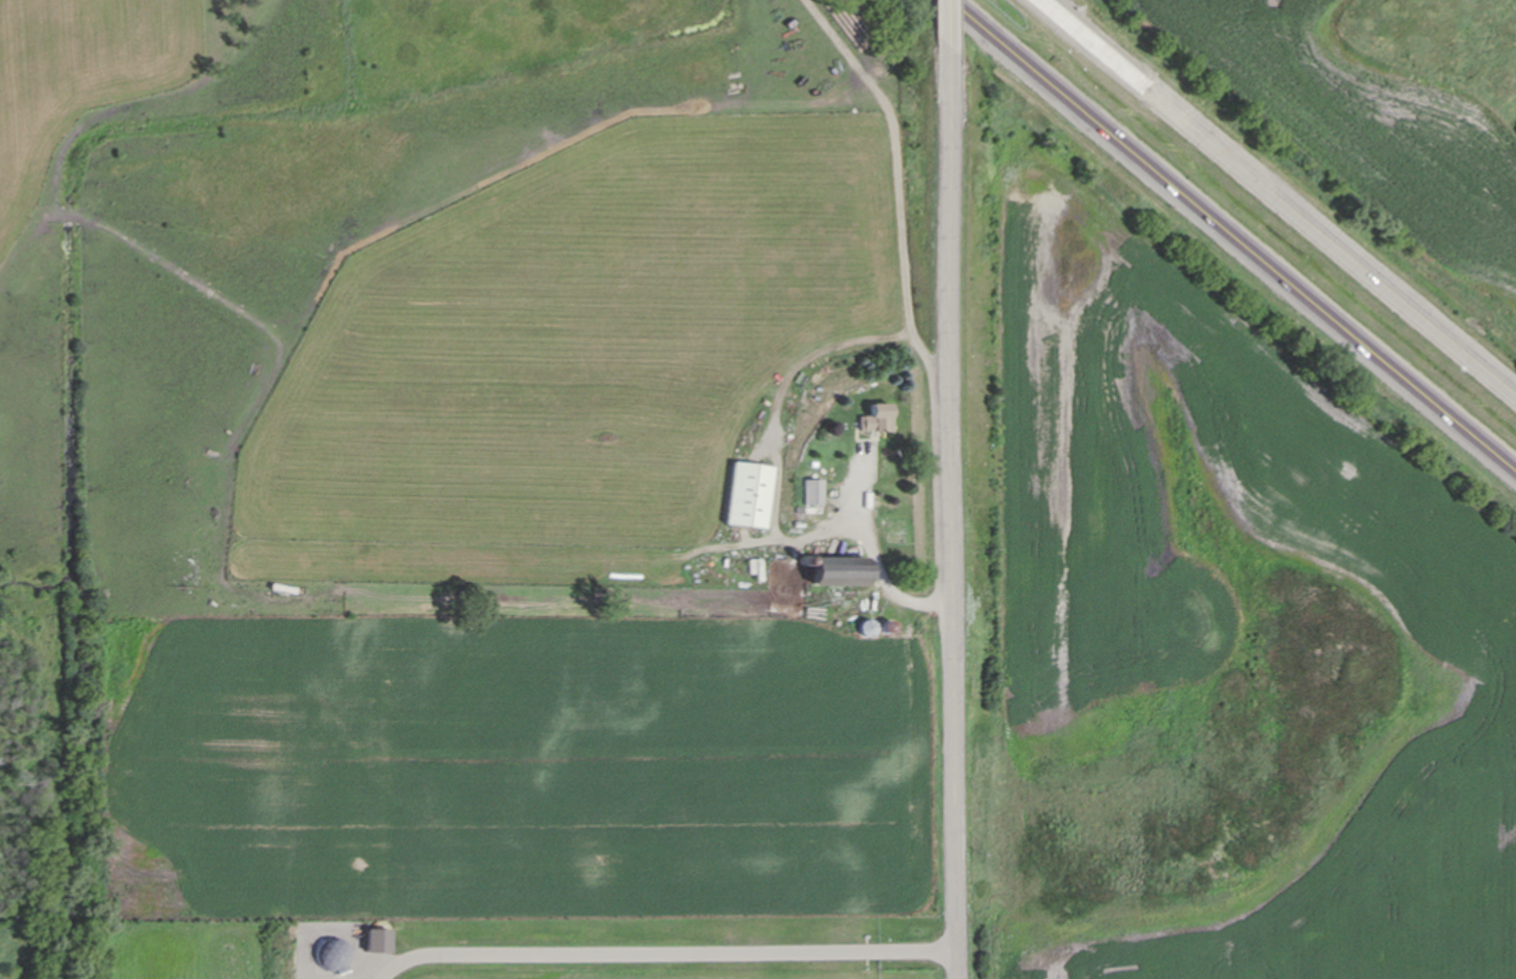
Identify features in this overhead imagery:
road: (944, 28)
road: (1278, 197)
road: (1233, 233)
road: (782, 400)
building: (878, 419)
building: (813, 492)
building: (750, 495)
road: (953, 517)
road: (876, 556)
building: (839, 571)
building: (378, 941)
road: (670, 951)

